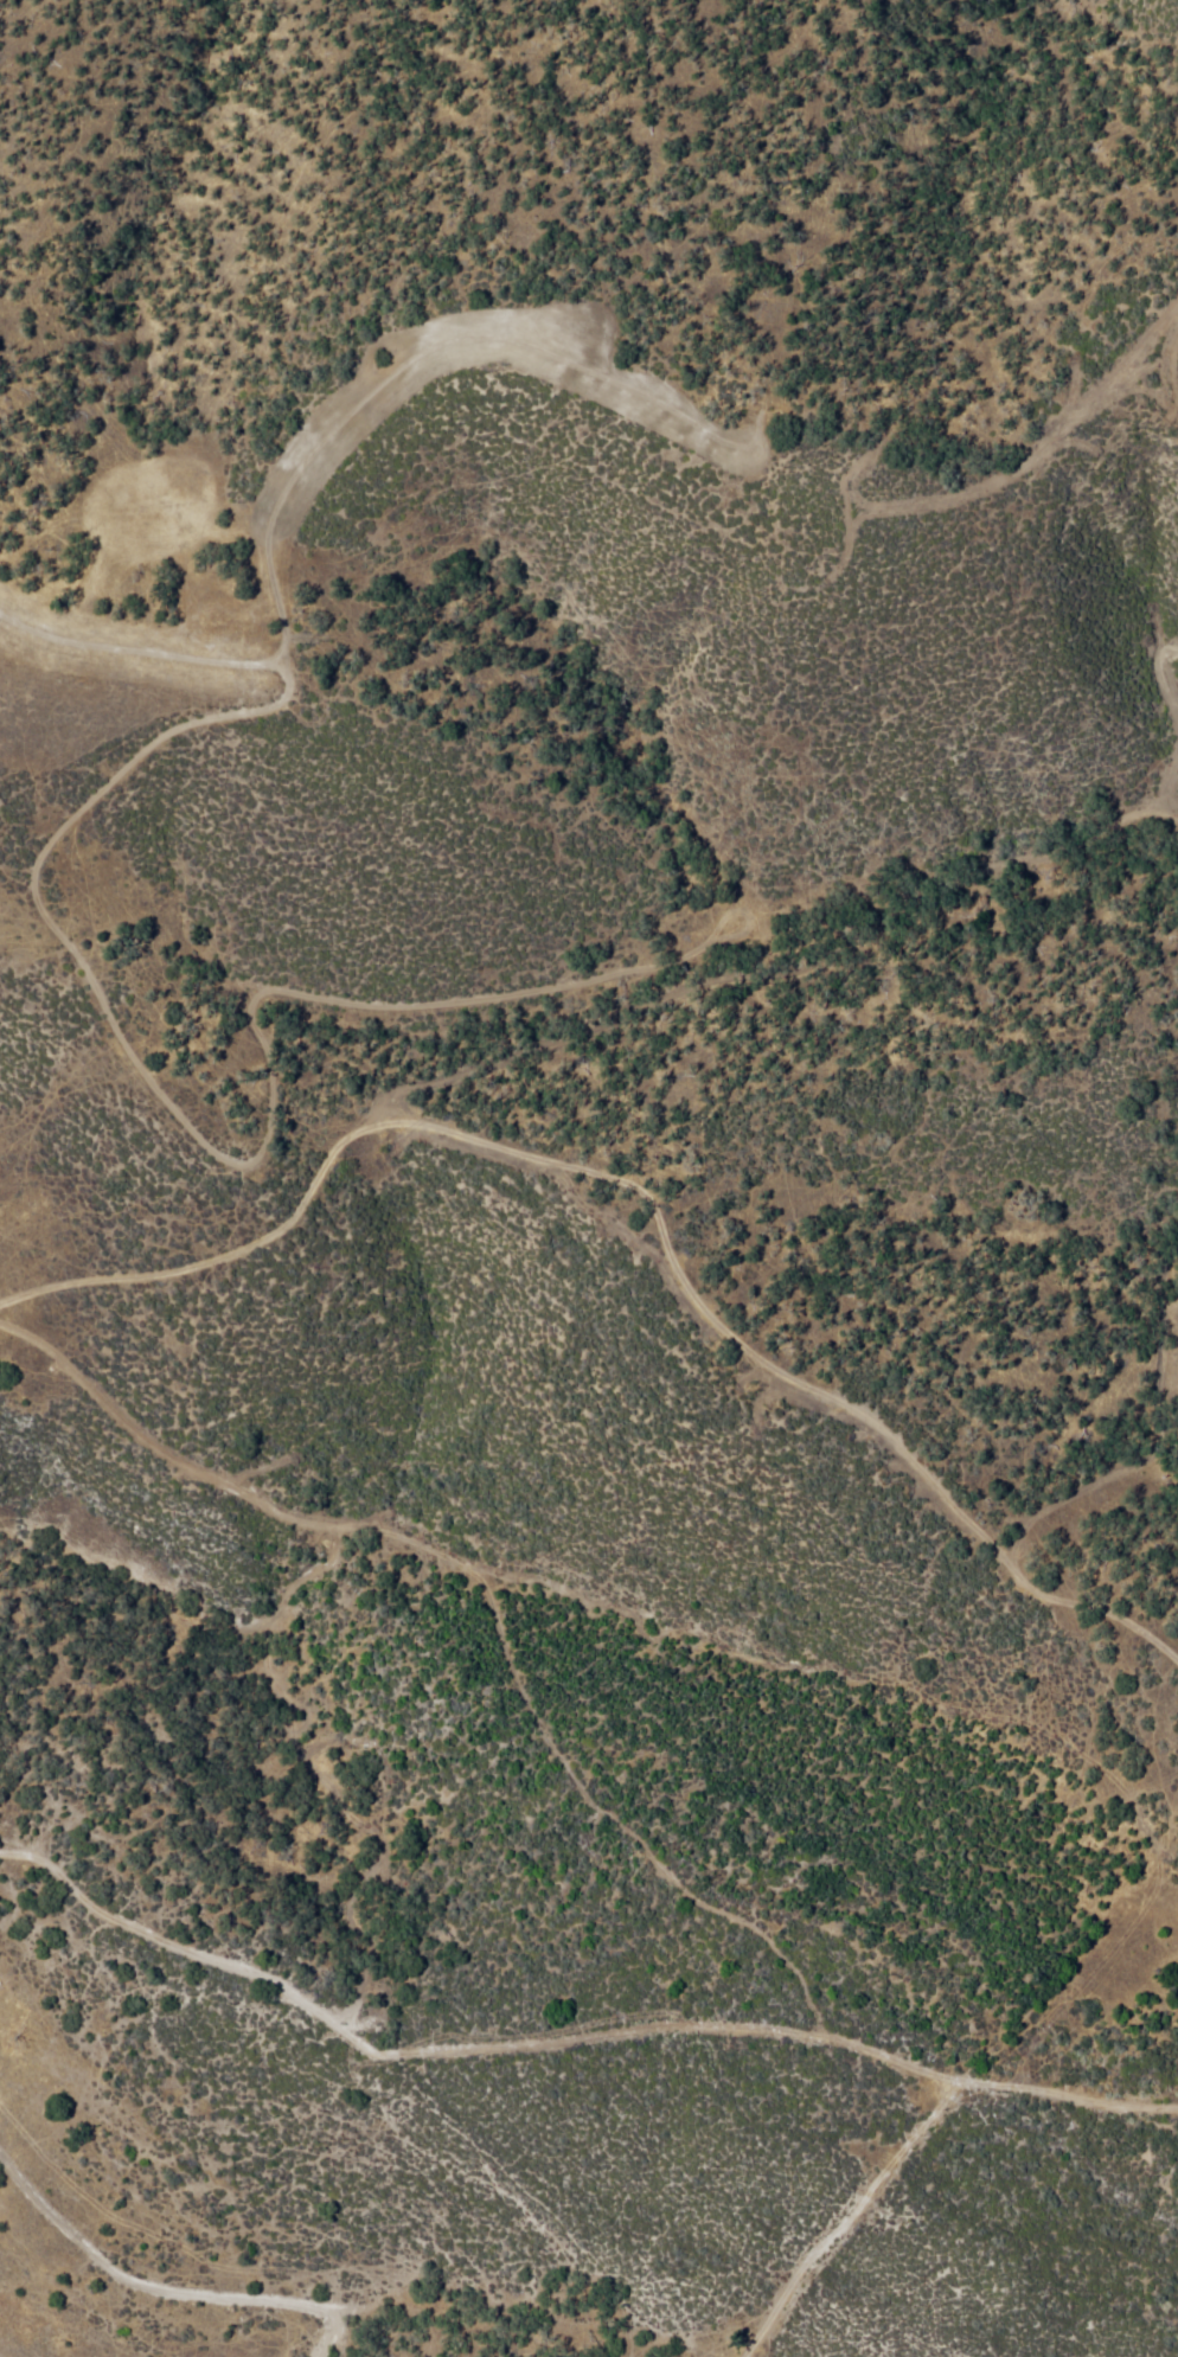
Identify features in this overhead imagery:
road: (273, 1109)
road: (918, 2132)

